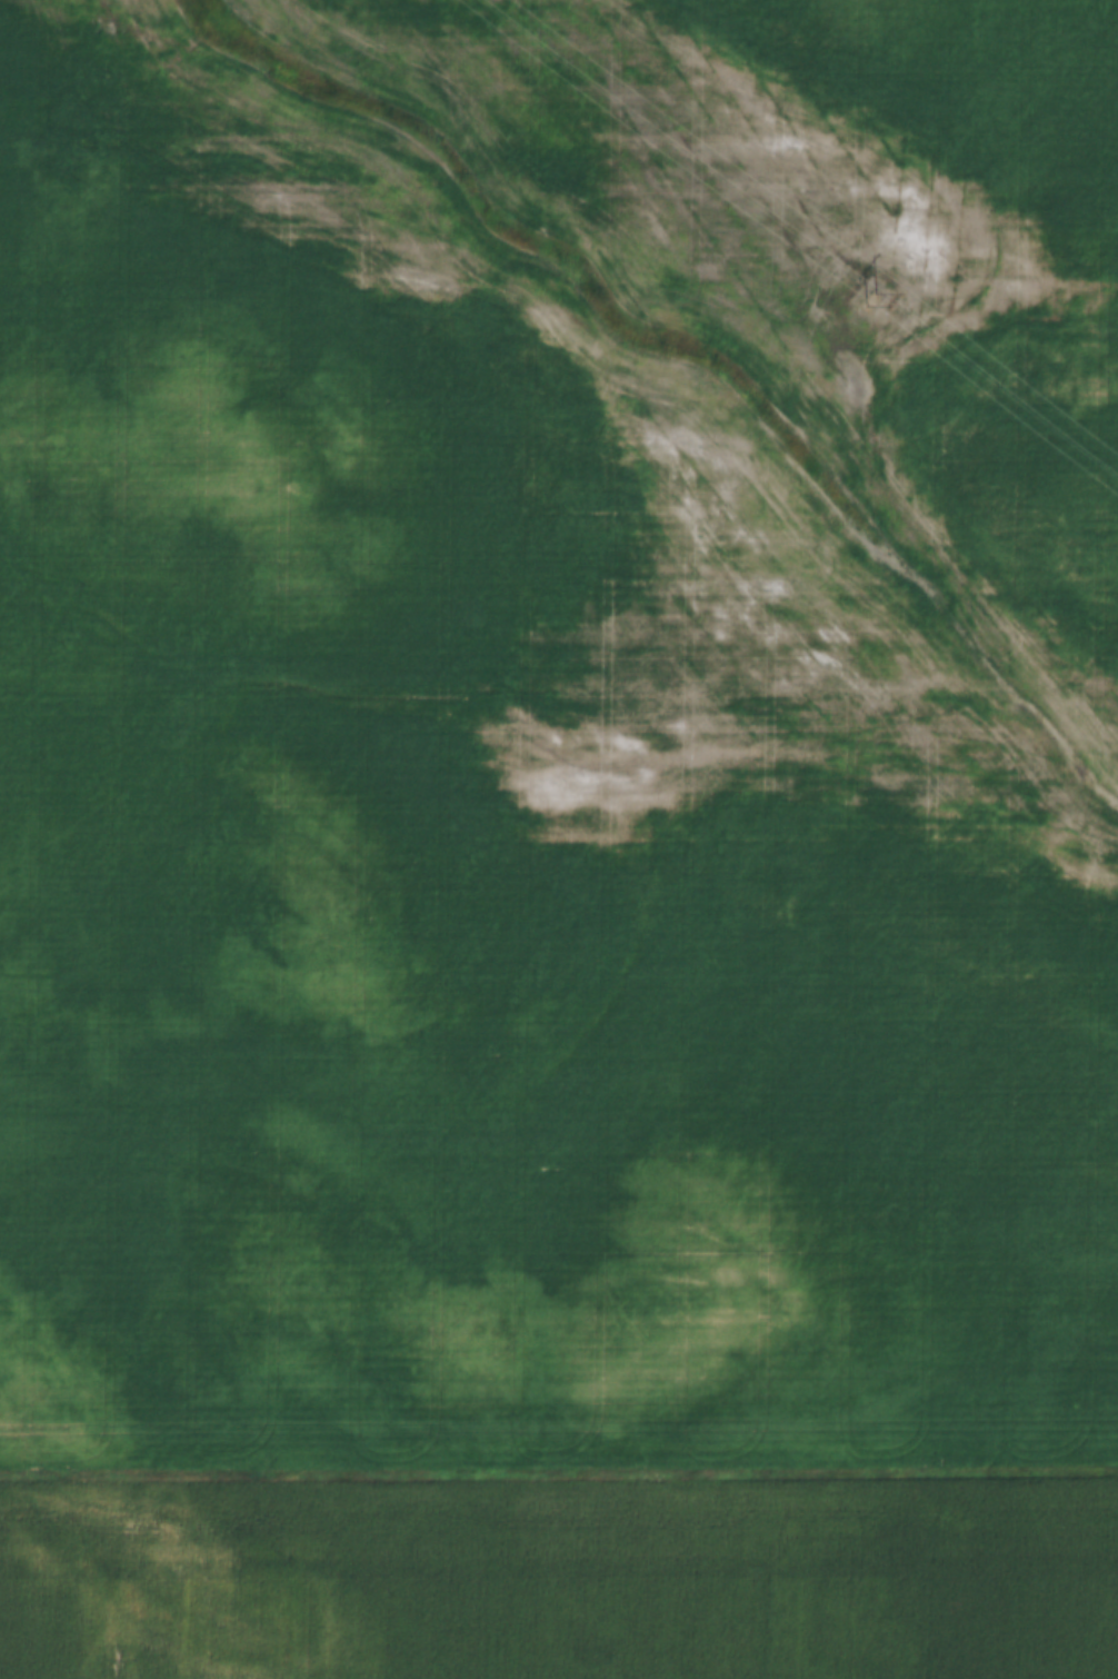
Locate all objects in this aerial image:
power tower: (871, 296)

